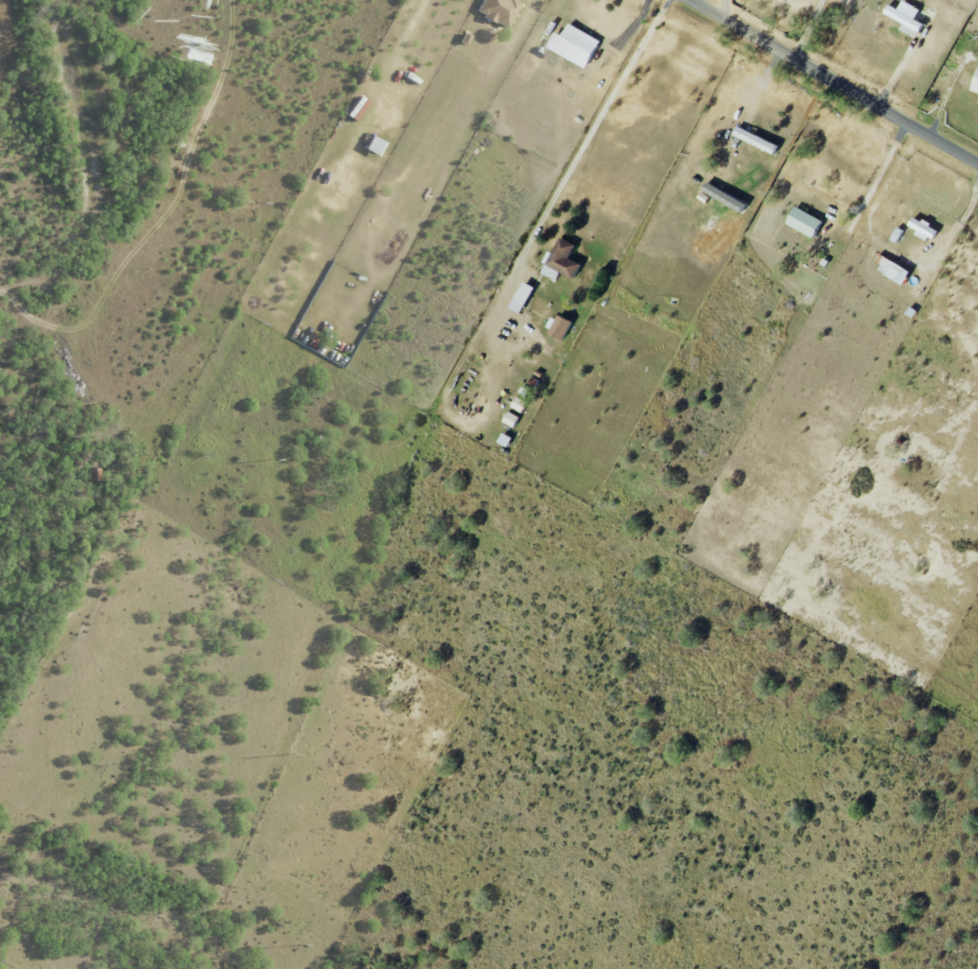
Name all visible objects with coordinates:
road: (721, 7)
building: (497, 10)
building: (904, 21)
building: (576, 45)
road: (835, 81)
building: (975, 83)
building: (755, 140)
road: (581, 151)
power tower: (262, 200)
building: (804, 221)
building: (922, 228)
building: (896, 234)
building: (561, 259)
building: (890, 267)
building: (521, 296)
building: (559, 327)
road: (518, 344)
building: (518, 403)
building: (511, 419)
building: (504, 439)
power tower: (275, 457)
power tower: (292, 751)
power tower: (301, 943)

